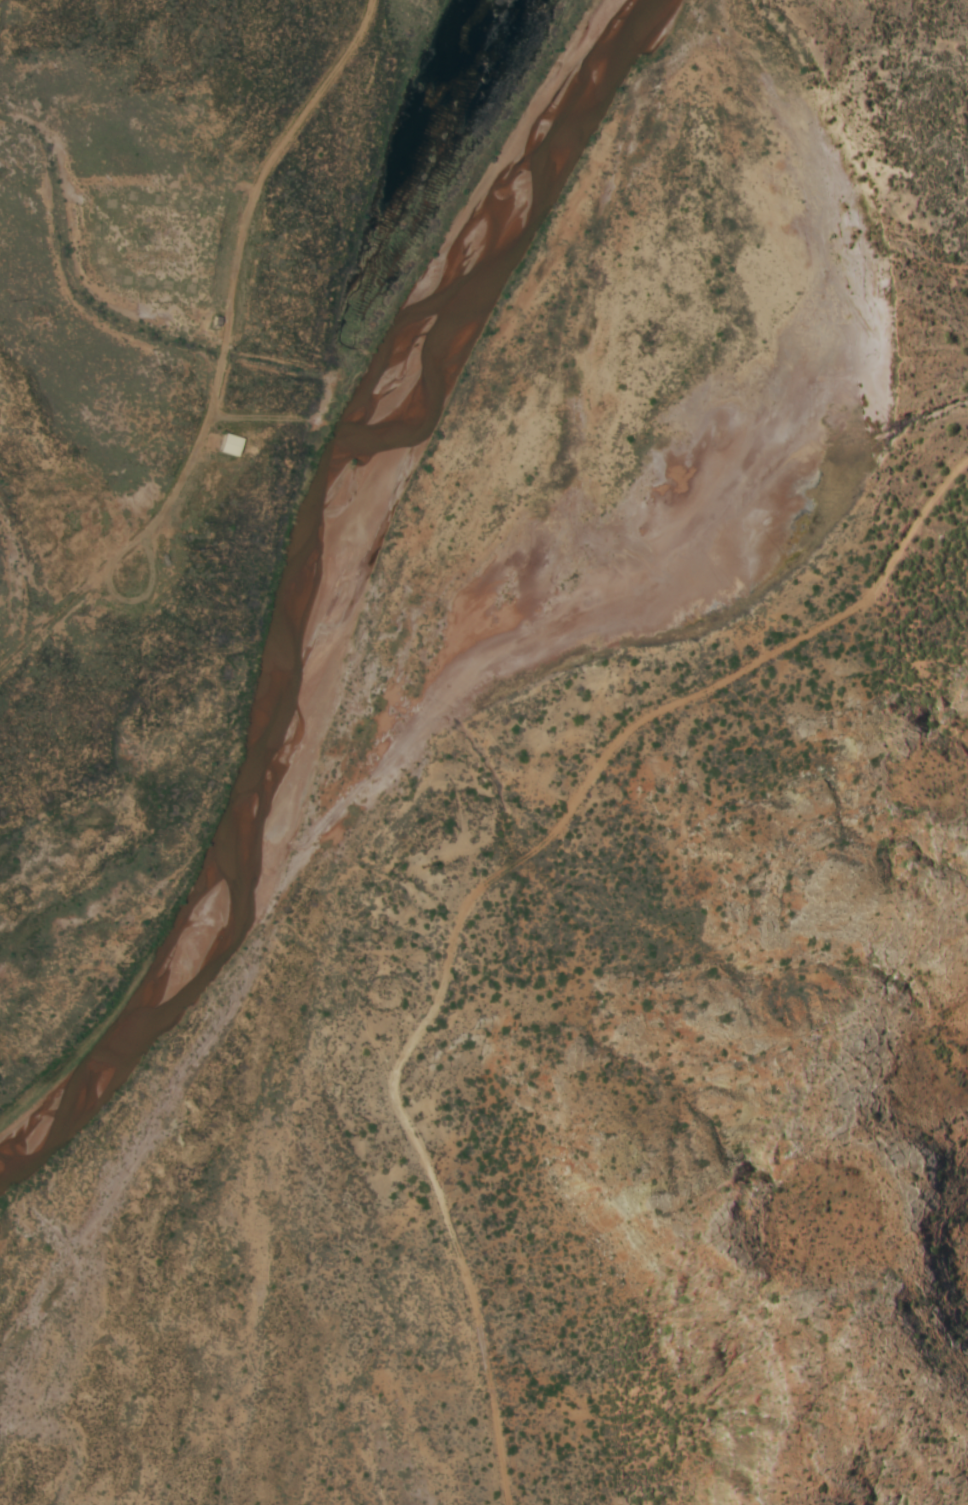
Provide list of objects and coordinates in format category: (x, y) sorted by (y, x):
building: (228, 444)
river: (337, 602)

